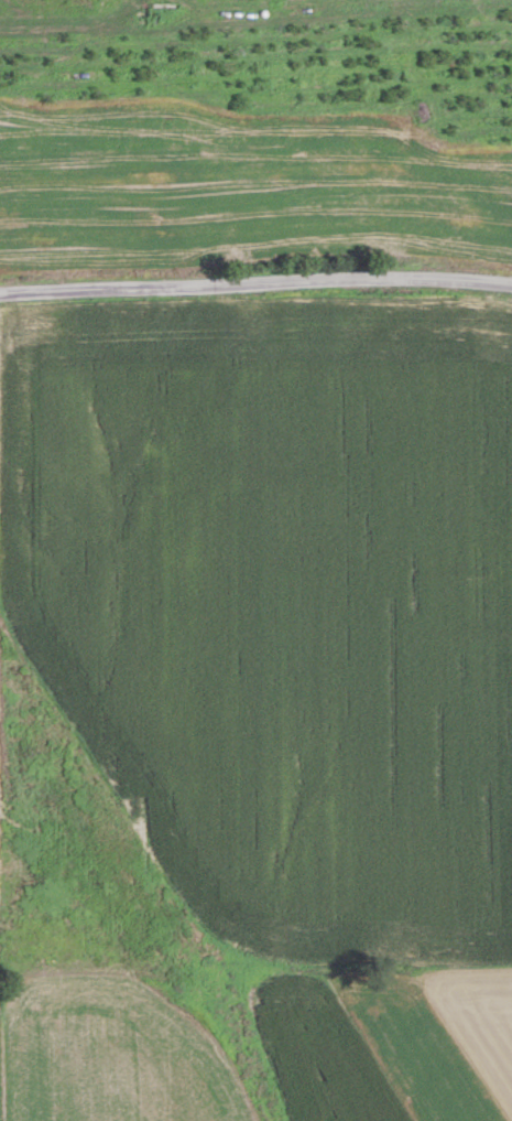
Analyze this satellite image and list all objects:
road: (255, 277)

